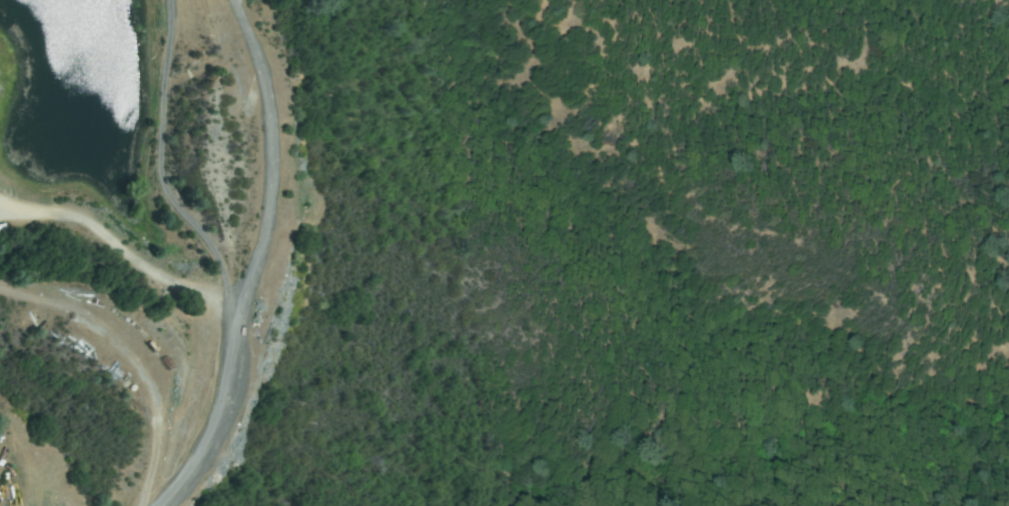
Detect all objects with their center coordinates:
road: (256, 259)
building: (163, 363)

